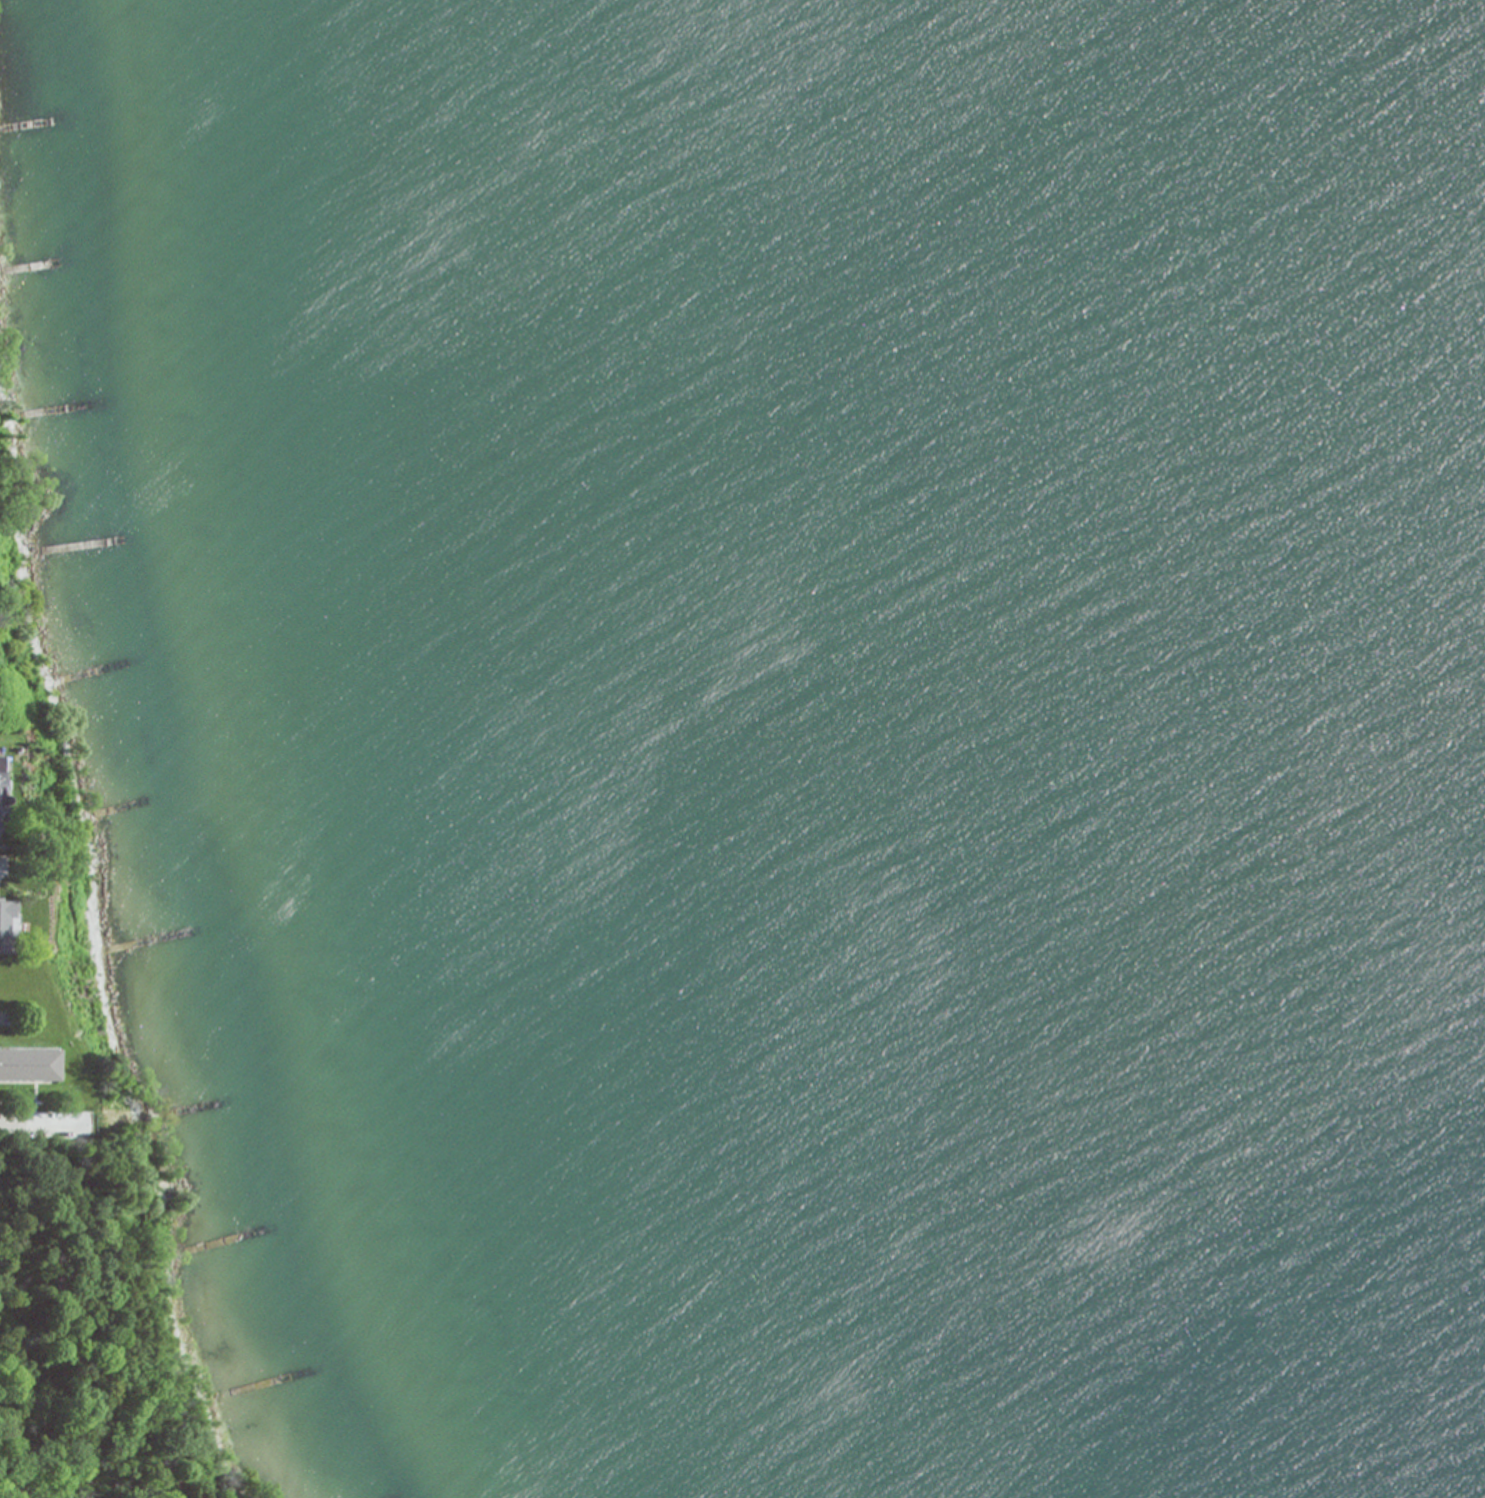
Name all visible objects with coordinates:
road: (3, 355)
building: (1, 788)
road: (2, 866)
building: (7, 928)
building: (28, 1064)
road: (43, 1124)
park: (93, 1337)

